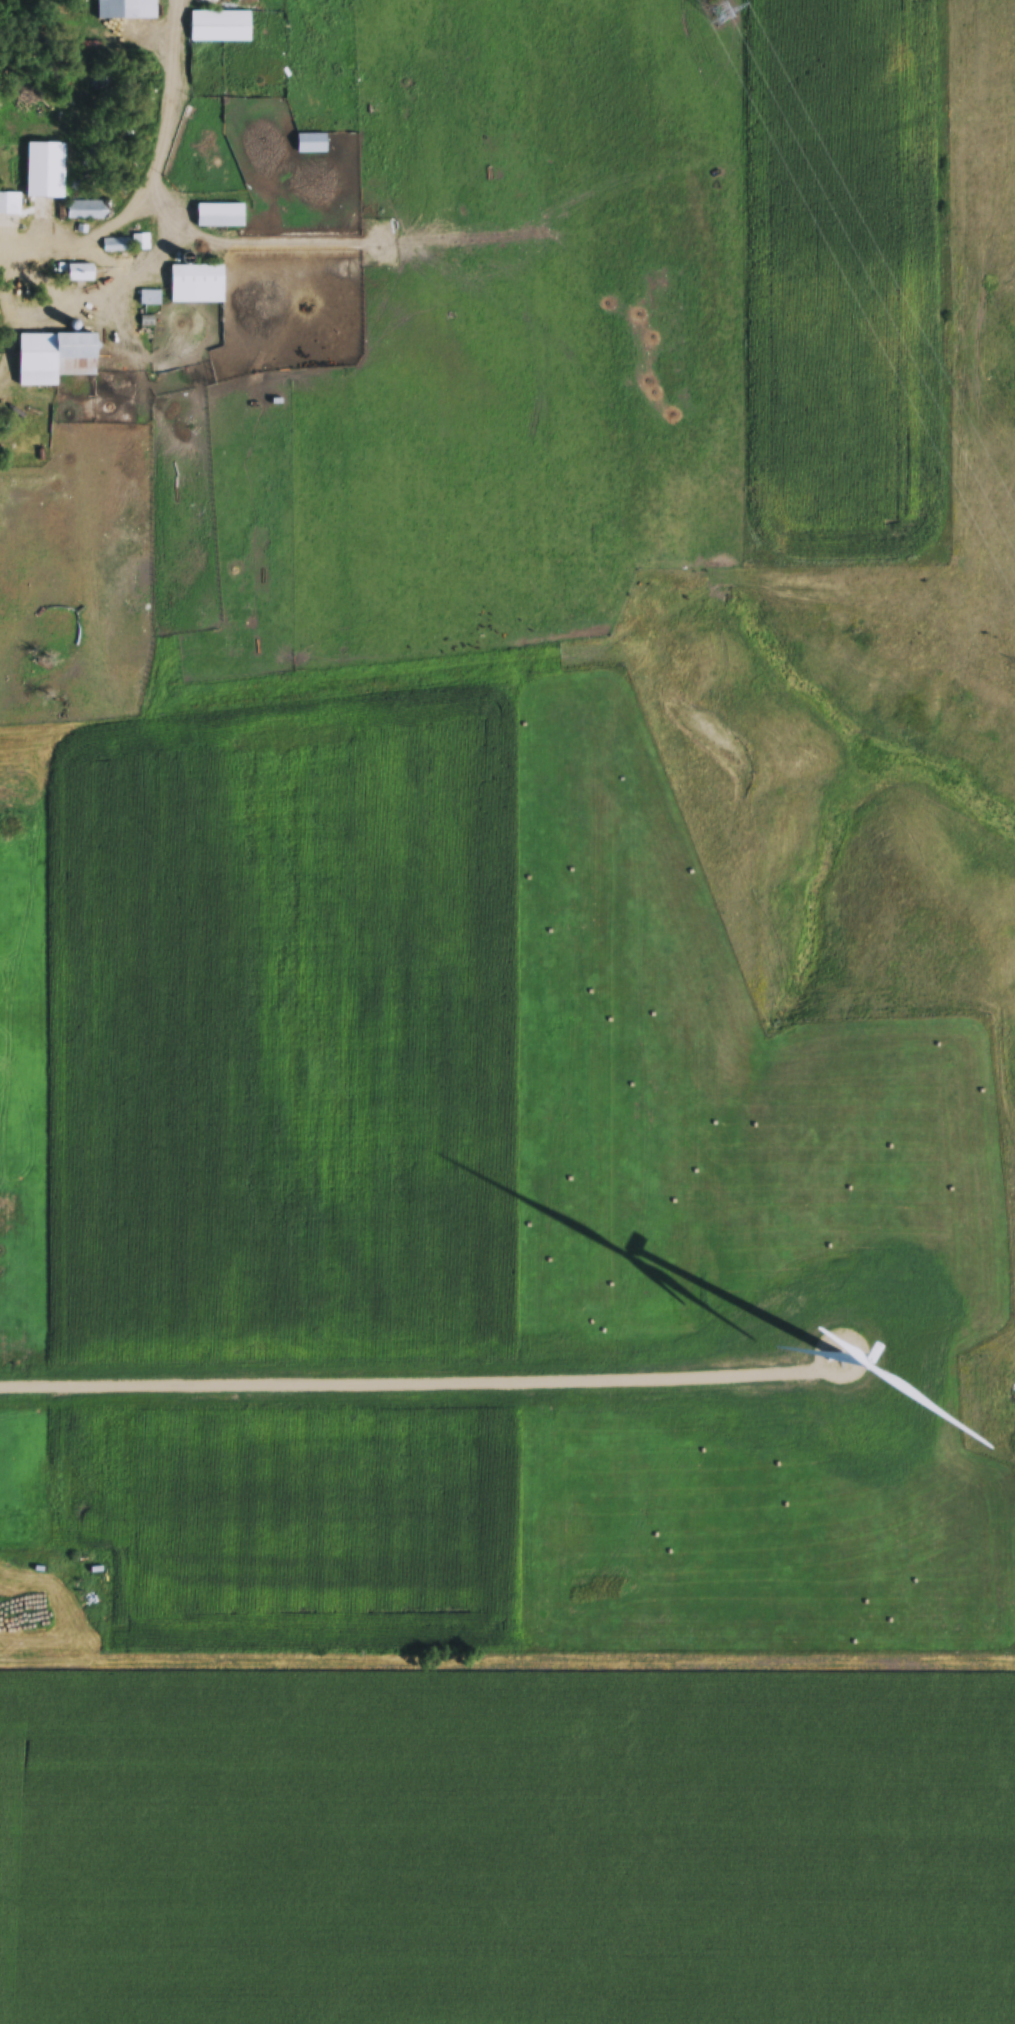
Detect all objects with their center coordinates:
building: (127, 10)
power tower: (723, 16)
building: (220, 28)
building: (311, 146)
building: (46, 173)
road: (151, 177)
building: (6, 205)
building: (220, 218)
road: (153, 260)
building: (81, 275)
building: (197, 286)
building: (150, 299)
road: (3, 317)
building: (56, 360)
wind turbine: (843, 1359)

